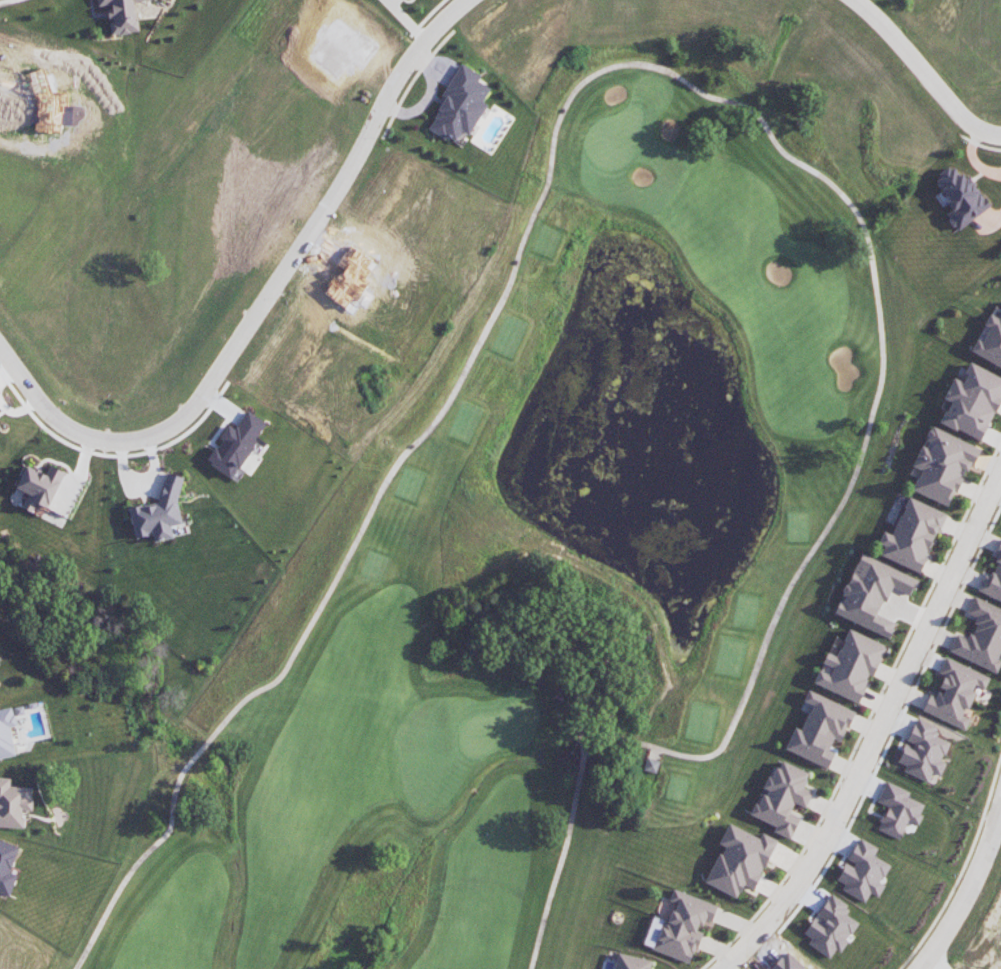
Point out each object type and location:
building: (121, 15)
road: (924, 73)
road: (692, 87)
building: (472, 112)
building: (958, 193)
road: (262, 305)
building: (990, 338)
building: (969, 402)
building: (236, 445)
building: (941, 469)
building: (39, 486)
building: (159, 511)
building: (908, 534)
park: (537, 563)
building: (992, 580)
building: (875, 596)
building: (981, 637)
building: (0, 662)
building: (848, 664)
building: (955, 693)
building: (819, 731)
road: (876, 731)
building: (7, 733)
building: (923, 751)
building: (651, 765)
building: (782, 799)
building: (13, 803)
building: (898, 810)
building: (739, 859)
building: (7, 867)
building: (863, 871)
road: (968, 884)
building: (676, 927)
building: (633, 962)

